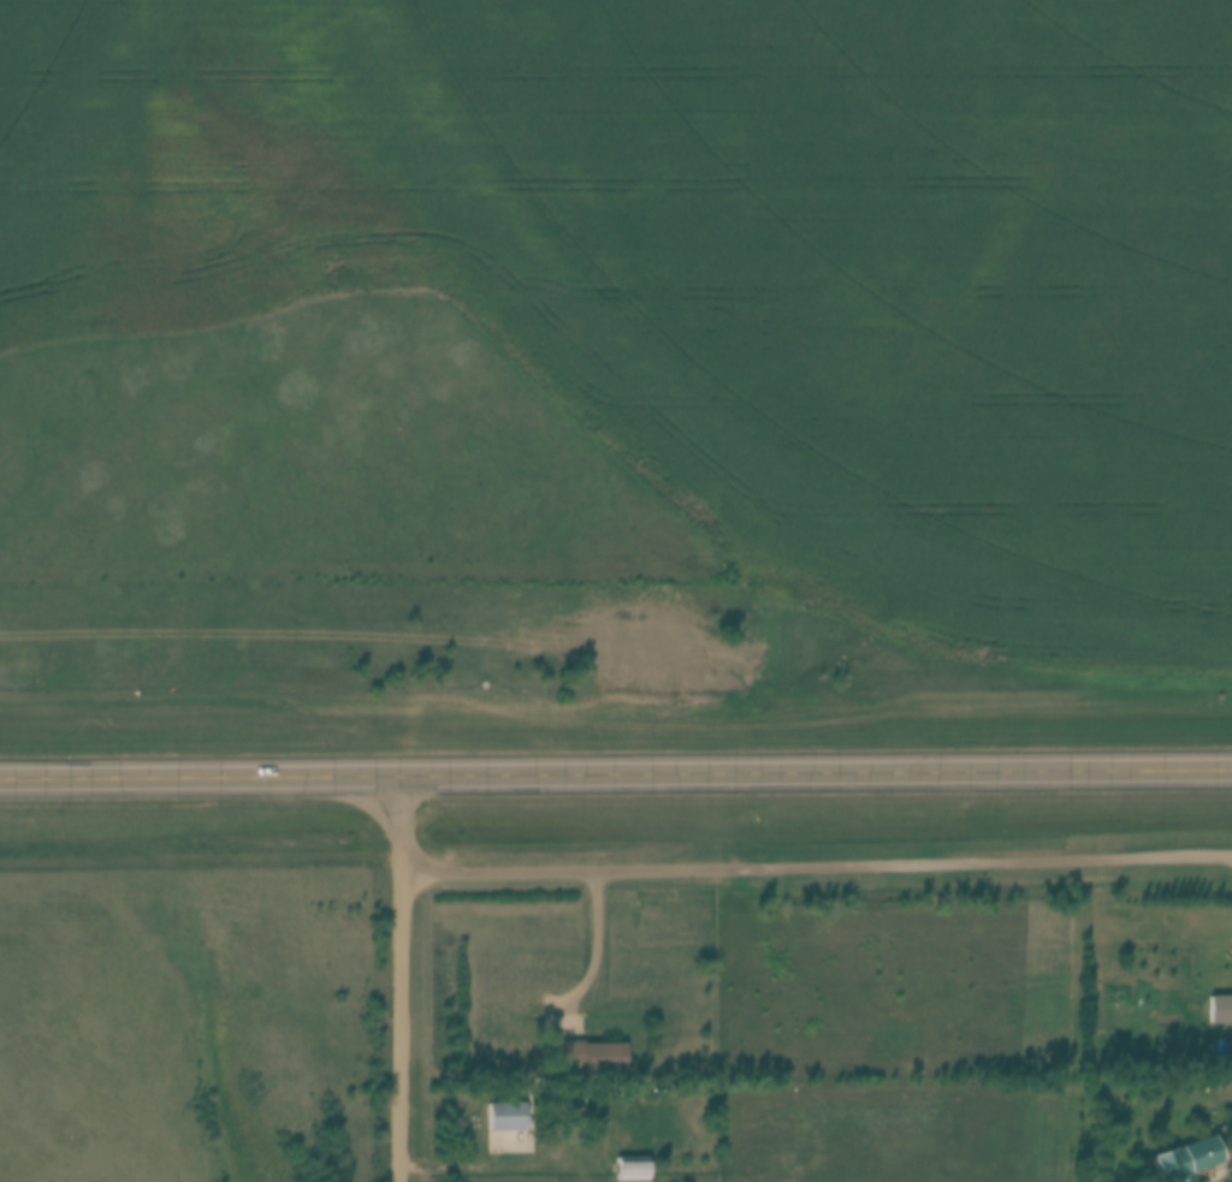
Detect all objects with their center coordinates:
road: (615, 767)
road: (815, 863)
road: (596, 954)
road: (398, 975)
building: (1221, 1006)
building: (591, 1053)
building: (507, 1116)
building: (1186, 1159)
building: (632, 1168)

